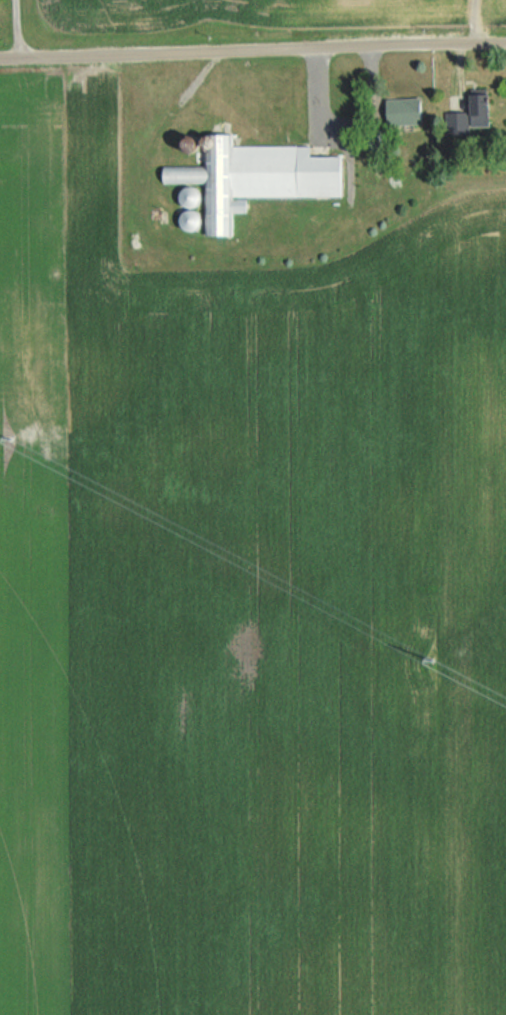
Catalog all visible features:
road: (467, 20)
road: (21, 24)
road: (253, 44)
building: (398, 111)
building: (463, 116)
building: (249, 178)
power tower: (3, 437)
power tower: (446, 658)
power tower: (448, 718)

